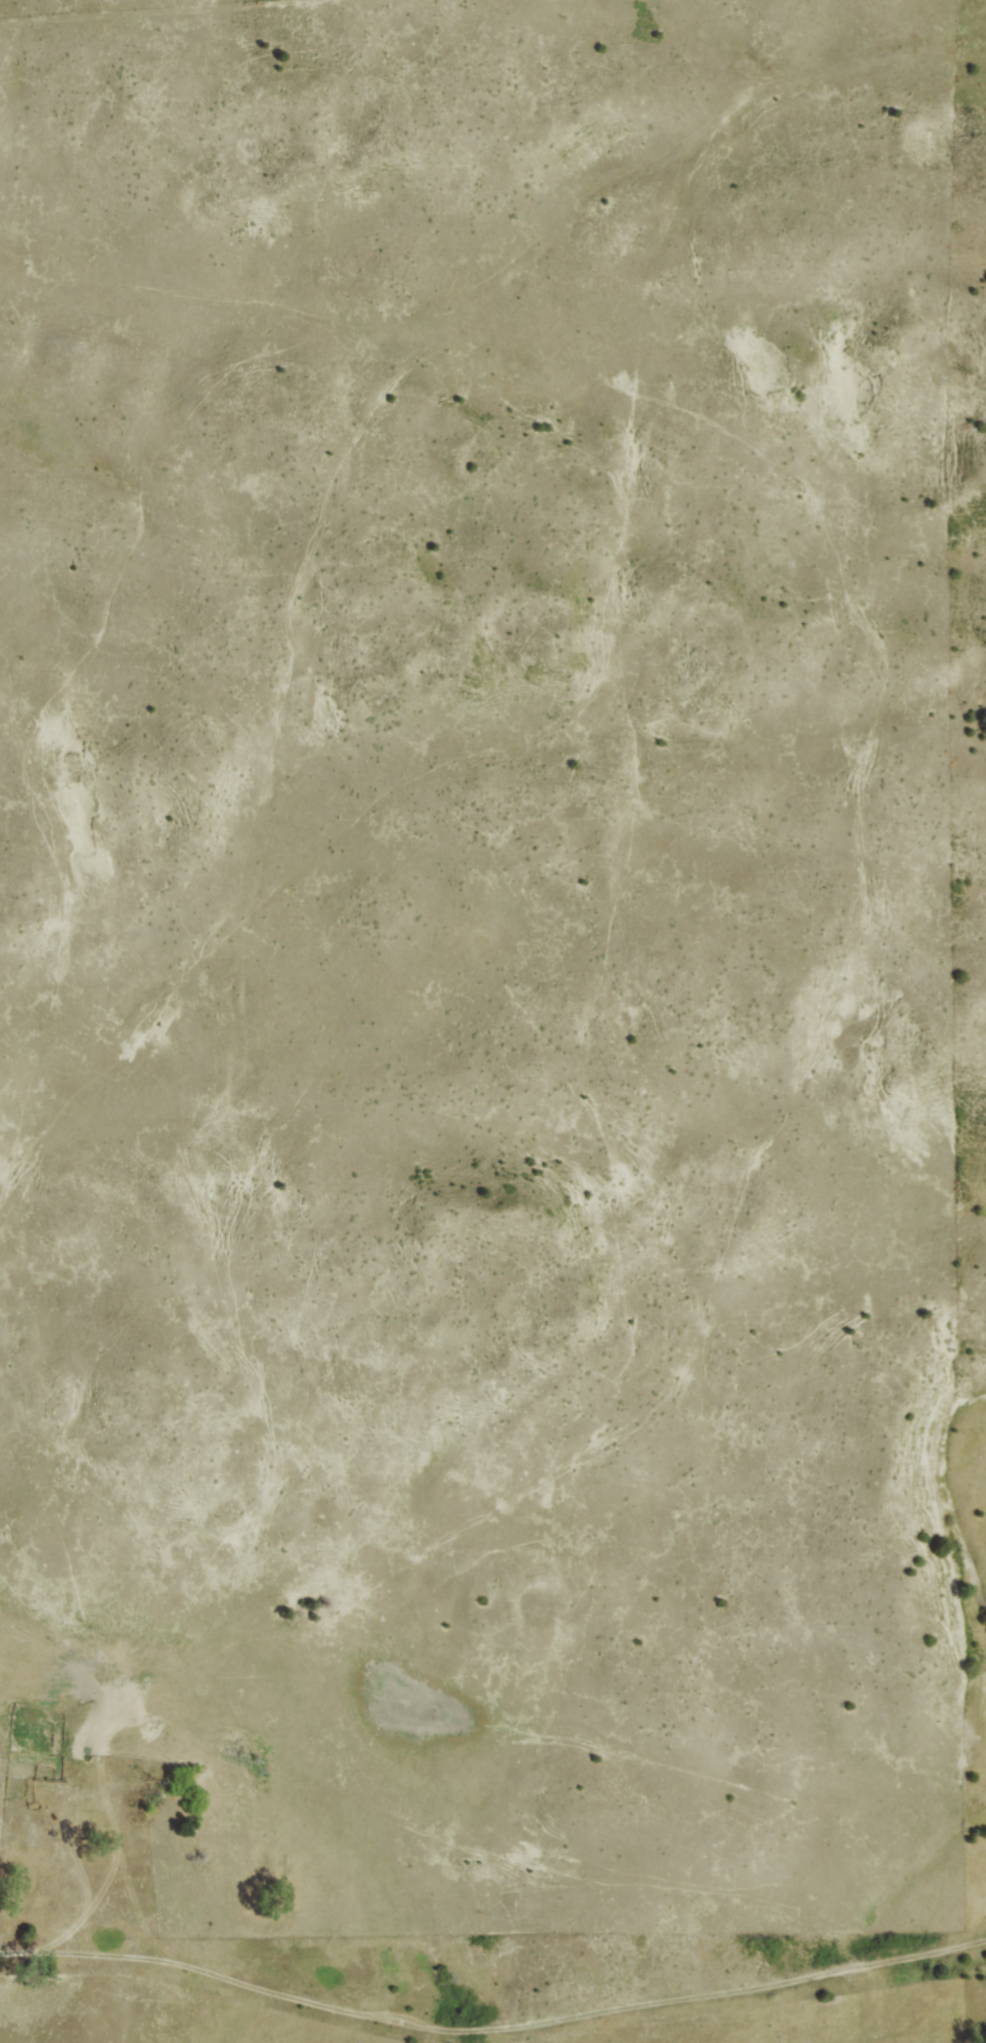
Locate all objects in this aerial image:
road: (492, 2032)

